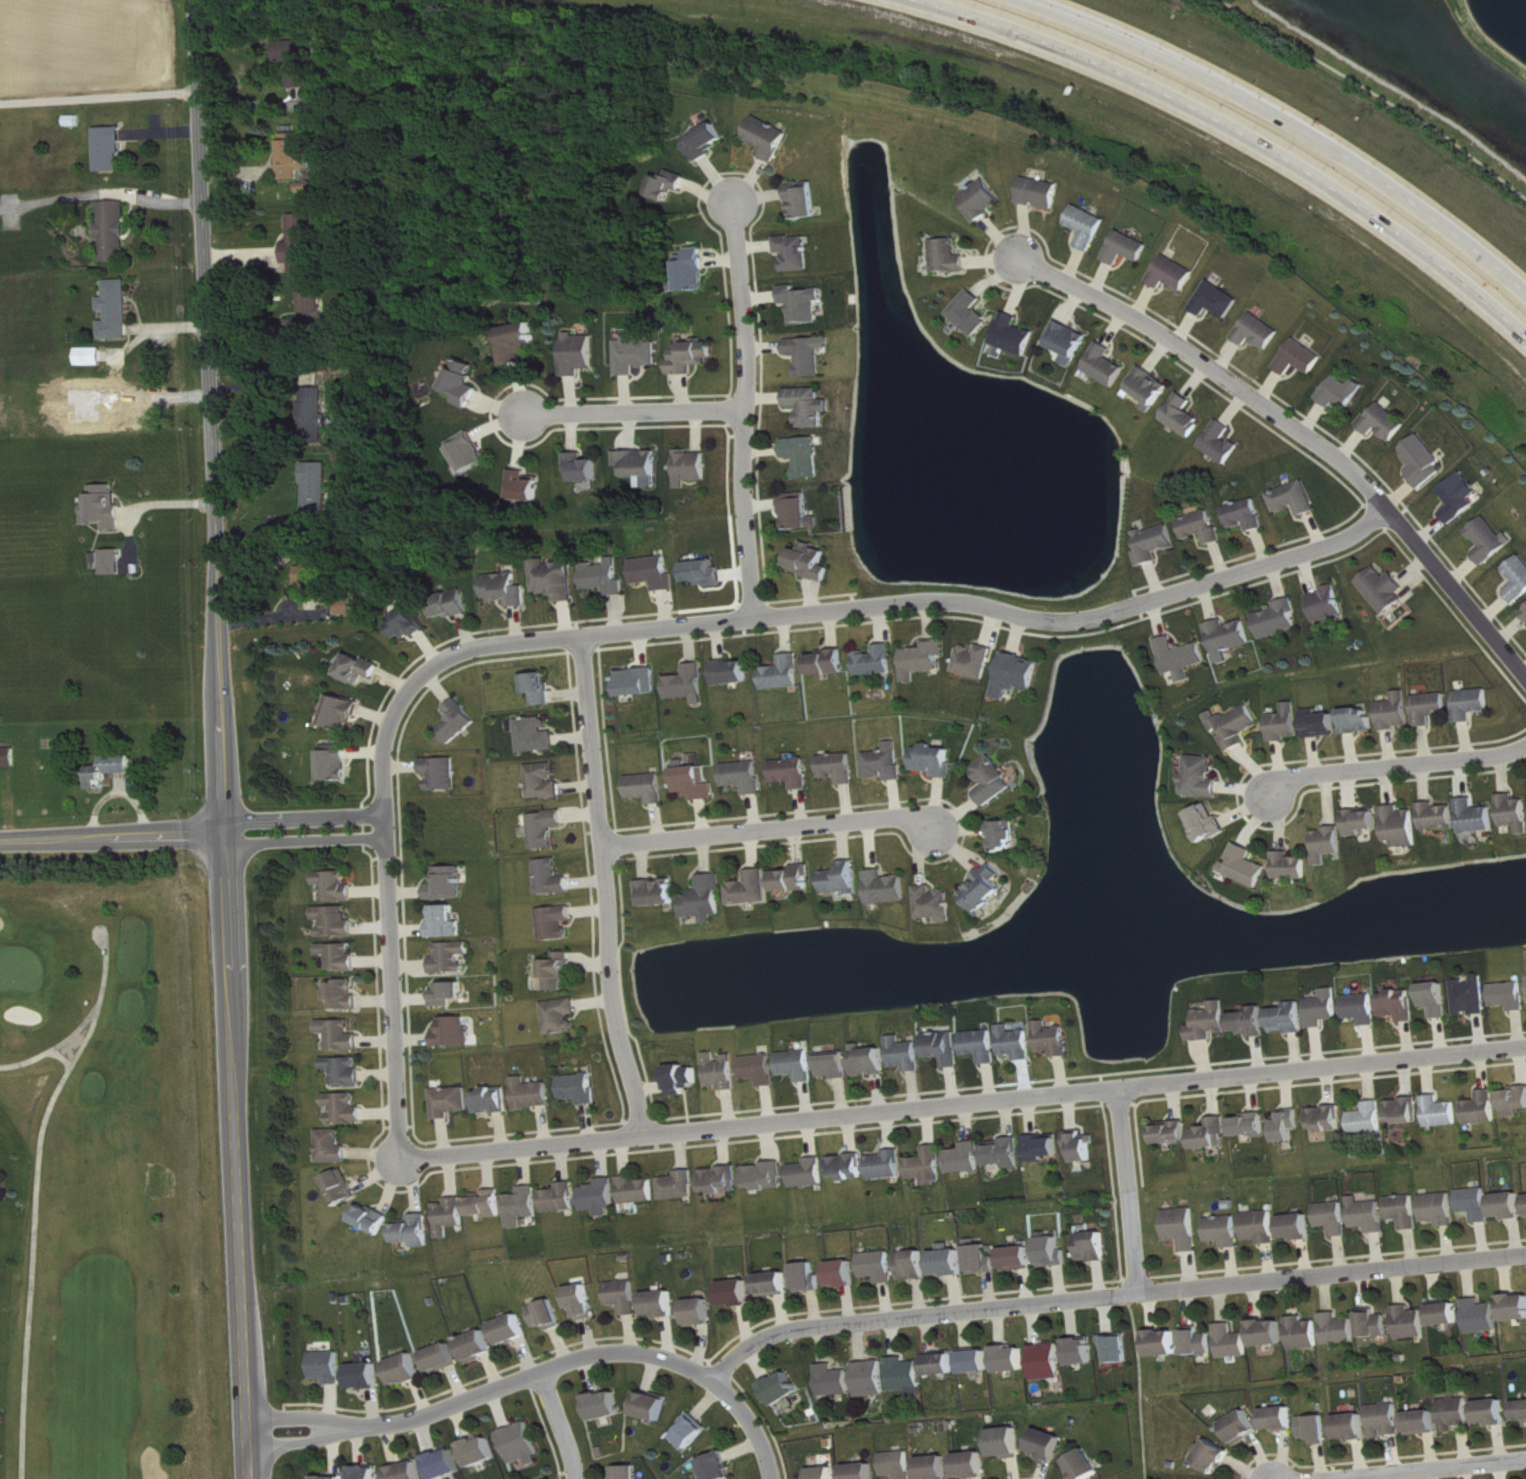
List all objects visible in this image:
crop: (84, 44)
building: (297, 61)
road: (1376, 92)
road: (99, 94)
road: (1291, 121)
road: (1241, 129)
road: (160, 131)
building: (769, 138)
building: (707, 141)
building: (105, 145)
building: (296, 156)
building: (670, 185)
road: (101, 192)
building: (1042, 193)
building: (804, 200)
building: (984, 200)
road: (127, 216)
building: (1089, 227)
building: (110, 228)
building: (304, 244)
building: (1129, 248)
building: (796, 253)
building: (950, 257)
building: (694, 271)
building: (1175, 275)
building: (1219, 301)
building: (804, 304)
building: (113, 306)
road: (137, 307)
building: (310, 313)
building: (972, 313)
road: (166, 325)
building: (1261, 332)
building: (1016, 336)
building: (1071, 342)
building: (519, 343)
building: (102, 353)
building: (581, 354)
building: (638, 355)
building: (810, 355)
building: (692, 357)
building: (1303, 358)
building: (1108, 365)
building: (116, 367)
building: (102, 368)
building: (465, 383)
building: (1151, 388)
building: (1345, 392)
building: (811, 407)
road: (743, 408)
road: (635, 413)
building: (316, 414)
building: (1186, 416)
building: (1386, 422)
road: (1306, 431)
building: (1224, 443)
building: (471, 452)
building: (806, 456)
building: (1426, 461)
building: (642, 465)
building: (693, 467)
building: (585, 468)
building: (526, 486)
building: (318, 491)
building: (1462, 497)
building: (1297, 499)
road: (165, 501)
building: (100, 503)
building: (801, 512)
building: (1249, 515)
building: (1204, 527)
road: (129, 537)
building: (1493, 540)
building: (1157, 544)
building: (91, 557)
building: (108, 558)
building: (812, 562)
building: (657, 573)
building: (706, 573)
building: (317, 576)
building: (606, 577)
building: (556, 580)
building: (1519, 580)
building: (508, 589)
building: (1386, 590)
building: (1330, 604)
building: (453, 605)
building: (349, 606)
building: (1282, 620)
building: (409, 624)
road: (668, 629)
building: (1231, 638)
building: (1183, 658)
building: (924, 660)
building: (878, 661)
building: (976, 661)
building: (830, 663)
building: (362, 669)
building: (735, 673)
building: (785, 674)
building: (1018, 675)
building: (641, 682)
building: (691, 685)
building: (543, 688)
building: (1474, 704)
building: (1433, 708)
building: (1398, 712)
building: (345, 713)
building: (1361, 720)
building: (461, 722)
building: (1288, 724)
building: (1324, 724)
building: (1239, 727)
building: (540, 735)
road: (222, 739)
building: (6, 754)
building: (937, 761)
building: (339, 763)
building: (888, 763)
road: (1394, 764)
building: (107, 766)
building: (841, 768)
building: (794, 773)
building: (445, 774)
building: (747, 777)
building: (1204, 777)
building: (995, 781)
building: (547, 782)
building: (697, 784)
building: (650, 788)
road: (118, 790)
building: (1514, 812)
building: (1440, 817)
building: (1478, 817)
building: (1365, 821)
building: (1211, 824)
building: (1404, 827)
road: (307, 829)
building: (549, 829)
road: (773, 829)
road: (112, 834)
building: (1006, 836)
building: (1331, 844)
building: (1247, 866)
building: (1293, 867)
building: (555, 878)
building: (844, 879)
building: (797, 880)
building: (451, 884)
building: (339, 886)
road: (610, 888)
building: (889, 888)
building: (753, 889)
building: (987, 889)
building: (660, 893)
building: (708, 900)
building: (937, 904)
building: (339, 922)
building: (449, 923)
building: (559, 923)
building: (343, 957)
building: (455, 958)
building: (562, 972)
building: (452, 994)
building: (347, 996)
building: (1512, 996)
building: (1474, 997)
building: (1439, 1000)
building: (1402, 1005)
building: (1326, 1009)
building: (1364, 1009)
building: (564, 1016)
building: (1291, 1018)
building: (1253, 1022)
building: (1212, 1023)
building: (458, 1033)
building: (343, 1035)
building: (1056, 1039)
building: (1019, 1043)
building: (984, 1046)
building: (946, 1048)
building: (908, 1054)
building: (871, 1062)
building: (799, 1066)
building: (836, 1067)
building: (762, 1070)
building: (347, 1072)
building: (724, 1072)
building: (685, 1079)
building: (582, 1089)
building: (535, 1095)
building: (496, 1101)
building: (454, 1102)
building: (1516, 1103)
road: (965, 1106)
building: (346, 1109)
building: (1486, 1109)
building: (1407, 1111)
building: (1444, 1113)
building: (1329, 1119)
building: (1371, 1119)
building: (1253, 1126)
building: (1292, 1126)
building: (1174, 1134)
building: (1214, 1134)
building: (335, 1147)
building: (1083, 1147)
building: (1045, 1148)
building: (1009, 1154)
building: (968, 1159)
building: (888, 1166)
building: (930, 1166)
building: (848, 1167)
building: (810, 1173)
building: (767, 1176)
park: (104, 1181)
building: (723, 1181)
building: (2, 1186)
building: (681, 1186)
building: (344, 1188)
building: (640, 1191)
road: (1131, 1191)
building: (603, 1197)
building: (563, 1199)
road: (44, 1204)
building: (489, 1204)
building: (1477, 1204)
building: (525, 1207)
building: (1510, 1207)
building: (1441, 1209)
building: (1406, 1211)
building: (1370, 1215)
building: (453, 1216)
building: (1336, 1218)
building: (374, 1220)
building: (1262, 1227)
building: (1185, 1228)
building: (1300, 1228)
building: (418, 1231)
building: (1226, 1231)
building: (1095, 1247)
building: (1054, 1251)
building: (983, 1259)
building: (1020, 1259)
building: (950, 1262)
building: (915, 1265)
building: (879, 1267)
building: (844, 1274)
building: (808, 1278)
building: (774, 1285)
building: (737, 1294)
road: (1110, 1294)
building: (625, 1297)
building: (584, 1302)
building: (662, 1305)
building: (1516, 1308)
building: (701, 1313)
building: (549, 1315)
building: (1448, 1315)
building: (1483, 1317)
building: (1413, 1323)
building: (1377, 1325)
building: (513, 1330)
building: (1341, 1330)
building: (1272, 1334)
building: (1307, 1334)
building: (1202, 1342)
building: (1235, 1342)
building: (1167, 1344)
building: (480, 1347)
building: (1121, 1349)
building: (1084, 1352)
building: (444, 1359)
building: (1014, 1360)
building: (978, 1362)
building: (1050, 1362)
building: (943, 1365)
building: (329, 1367)
building: (408, 1370)
building: (908, 1375)
building: (368, 1377)
building: (873, 1379)
building: (836, 1381)
building: (785, 1389)
road: (486, 1393)
building: (607, 1406)
building: (654, 1407)
building: (1522, 1411)
building: (1457, 1414)
building: (1494, 1414)
building: (1282, 1419)
building: (1387, 1421)
building: (1424, 1423)
road: (561, 1425)
road: (752, 1425)
building: (1245, 1428)
building: (1354, 1428)
building: (1317, 1429)
building: (693, 1432)
building: (1009, 1444)
building: (523, 1445)
building: (1050, 1445)
building: (482, 1452)
building: (447, 1465)
building: (899, 1465)
building: (973, 1466)
building: (1087, 1466)
building: (720, 1467)
building: (936, 1468)
road: (1423, 1469)
building: (862, 1471)
building: (410, 1472)
building: (630, 1472)
building: (369, 1473)
building: (826, 1473)

